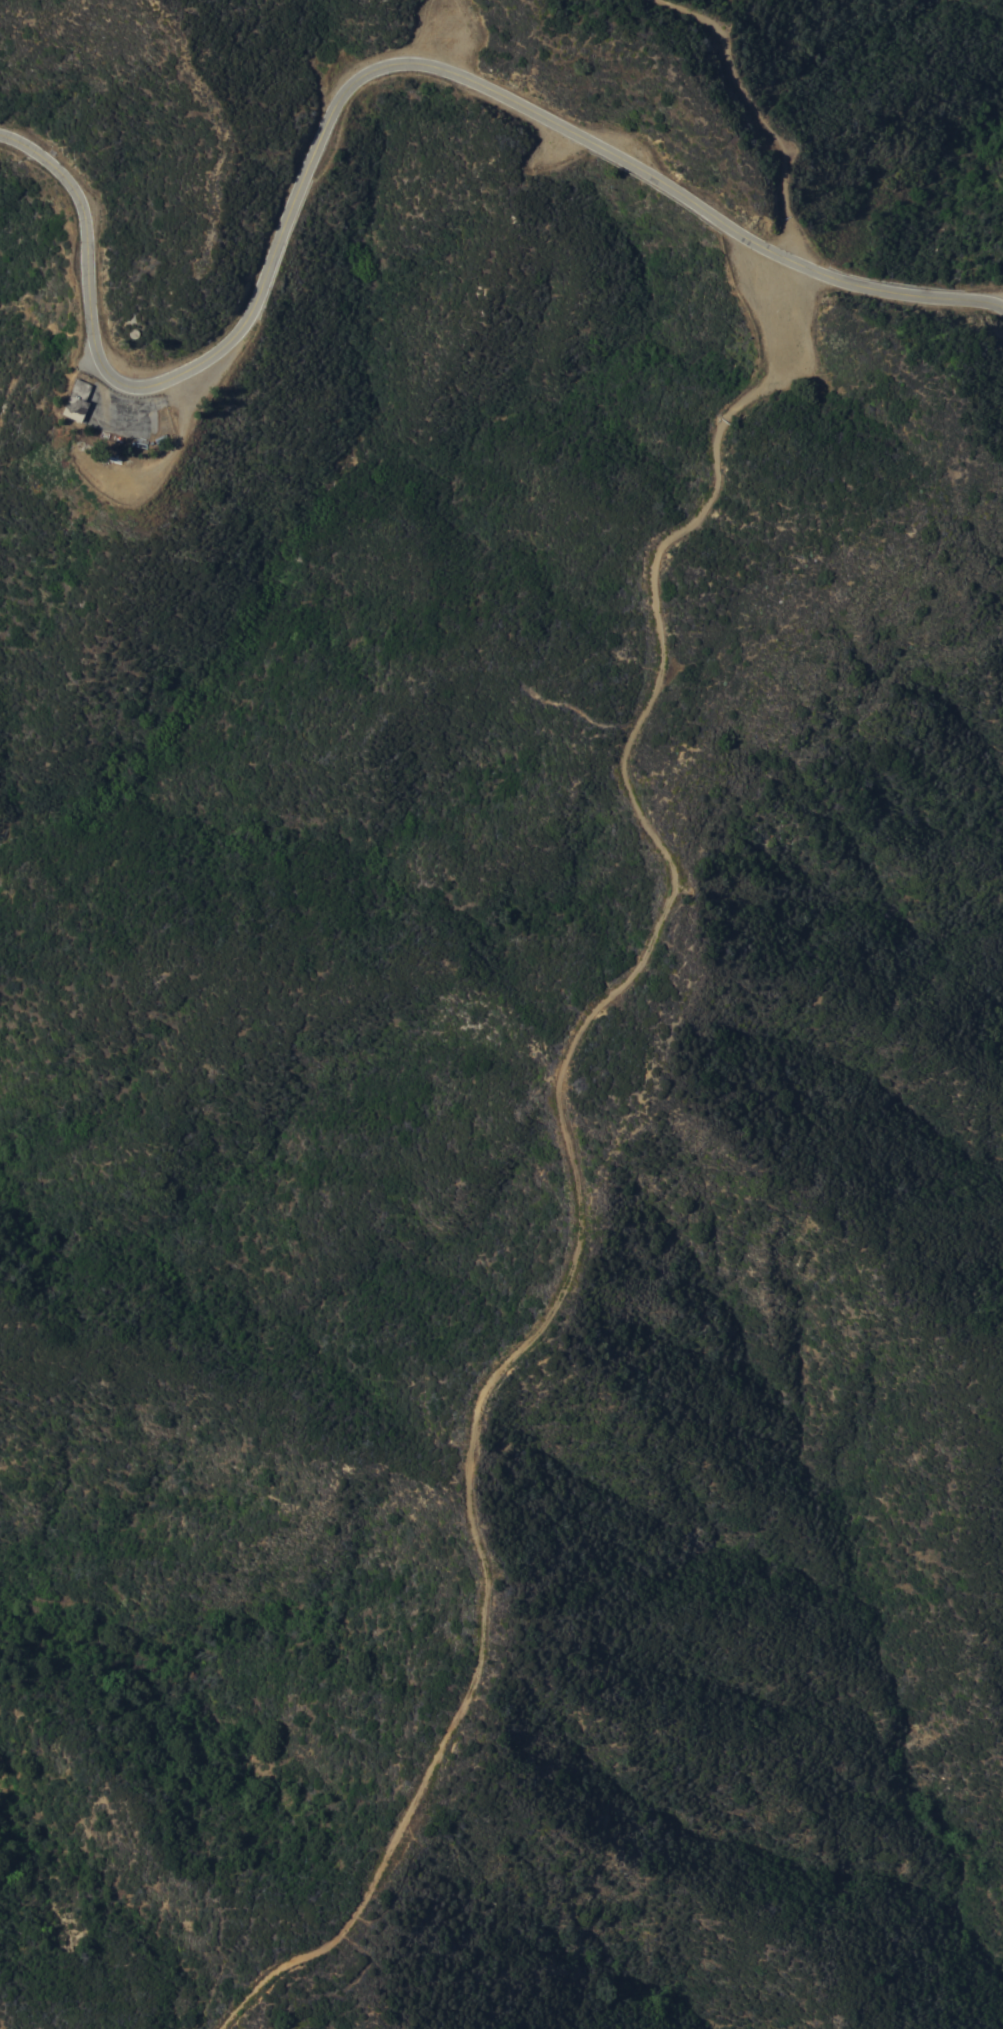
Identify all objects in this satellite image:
road: (353, 82)
road: (752, 115)
building: (76, 399)
road: (143, 406)
road: (572, 1161)

